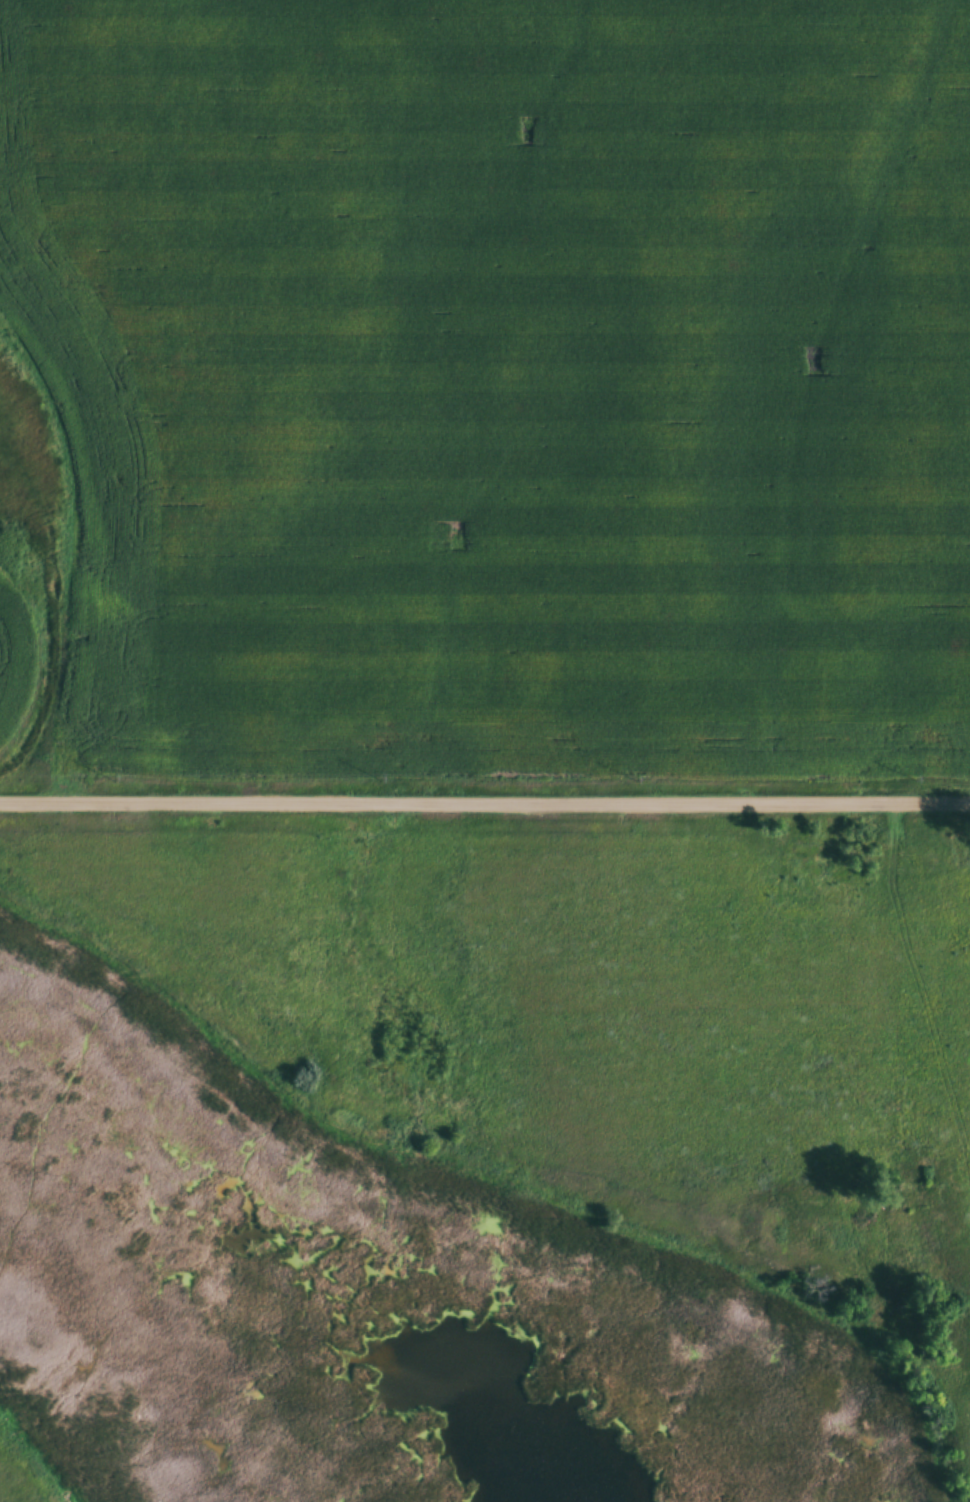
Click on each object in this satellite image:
road: (484, 803)

